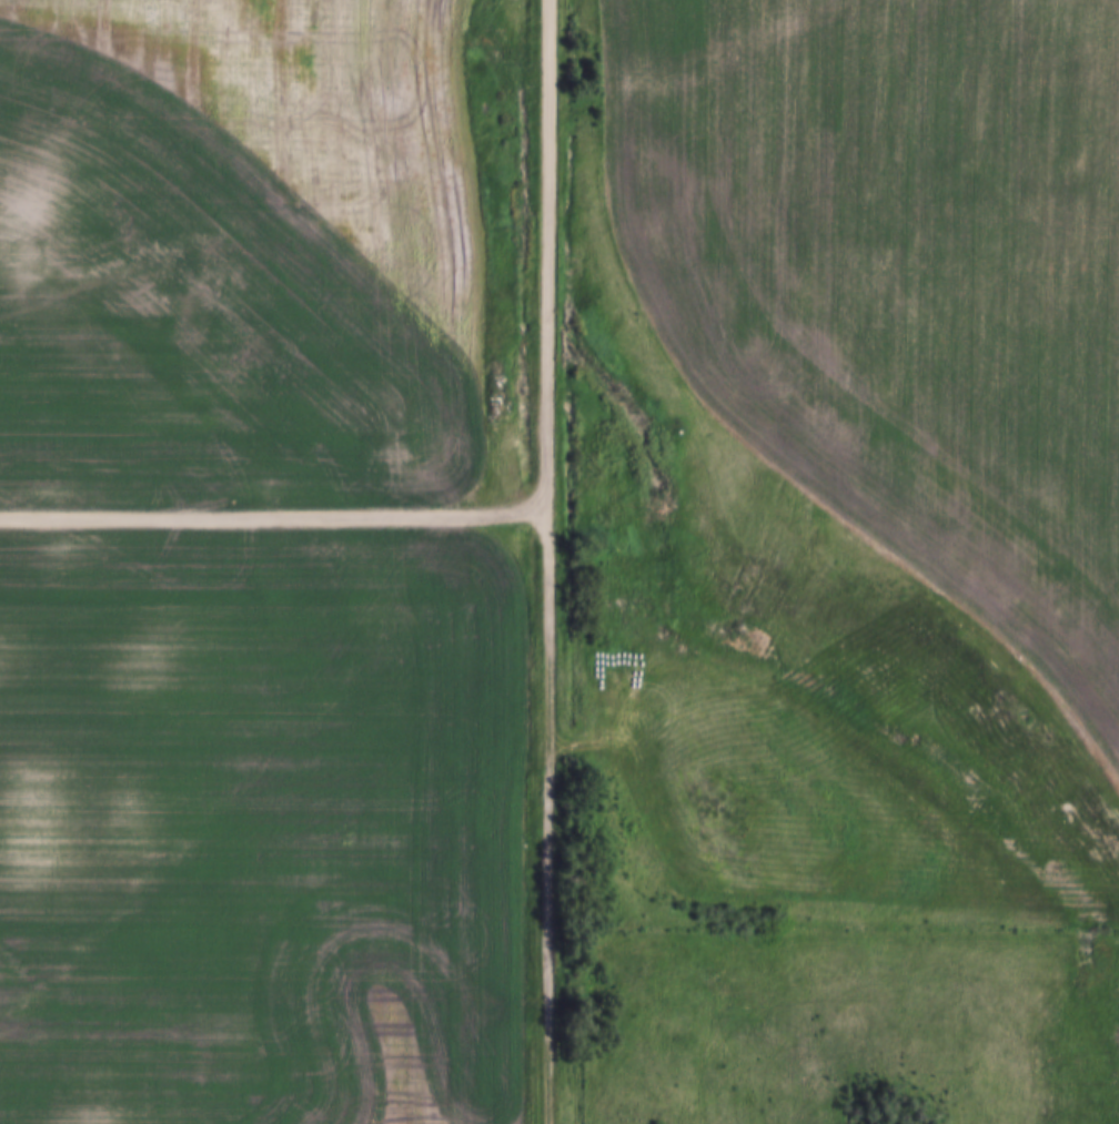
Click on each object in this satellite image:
road: (550, 561)

